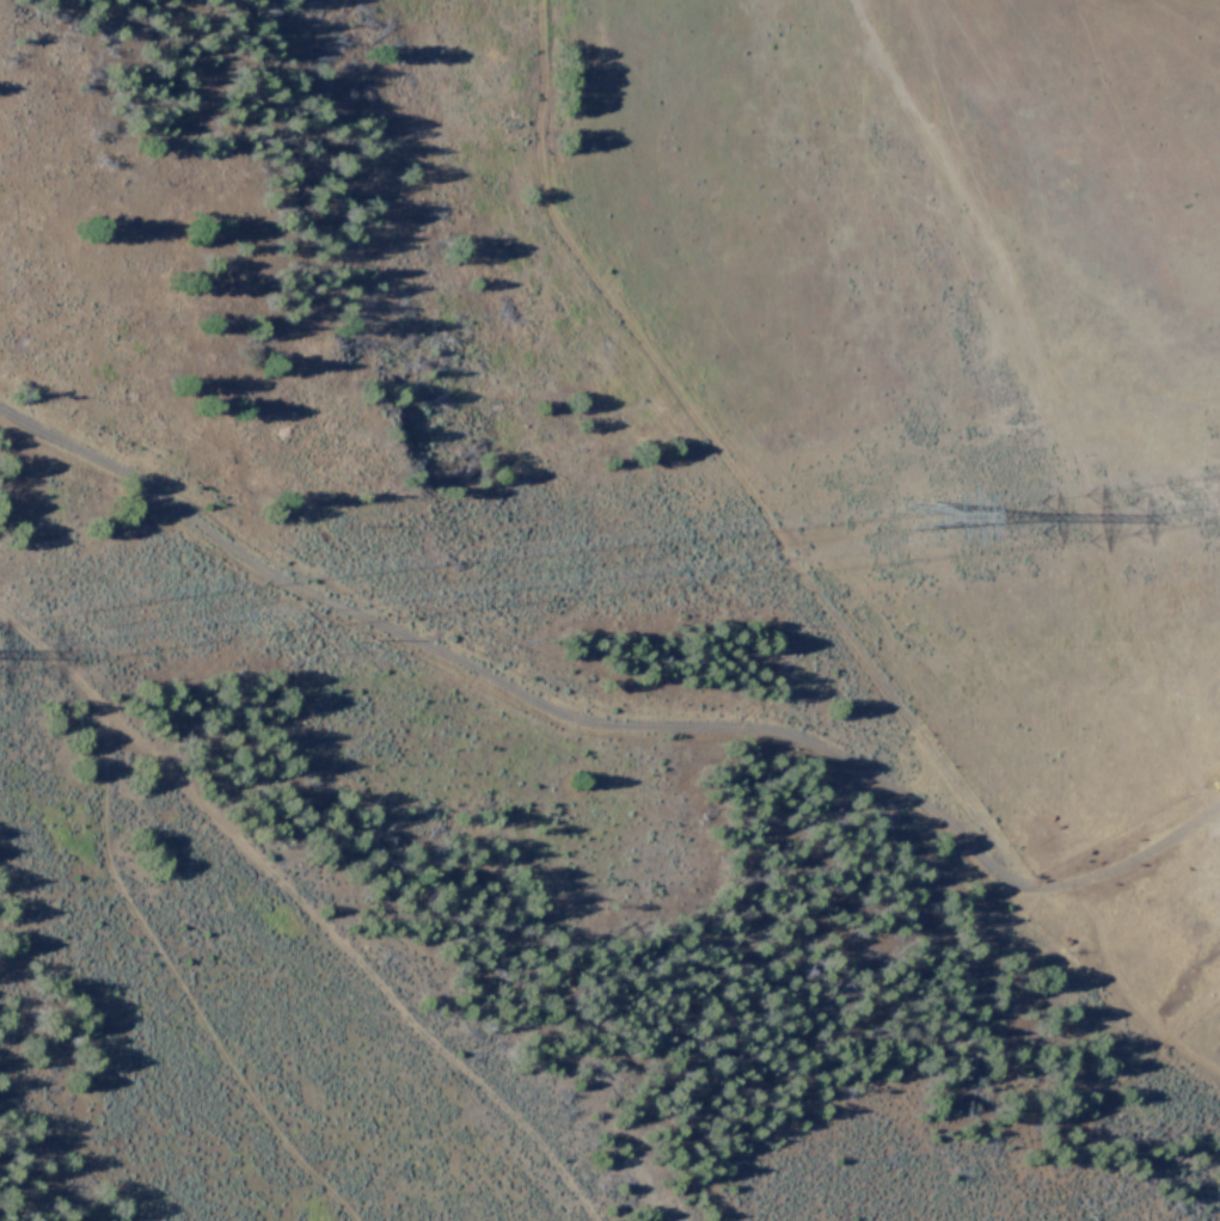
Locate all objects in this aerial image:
power tower: (920, 516)
road: (770, 556)
road: (407, 644)

